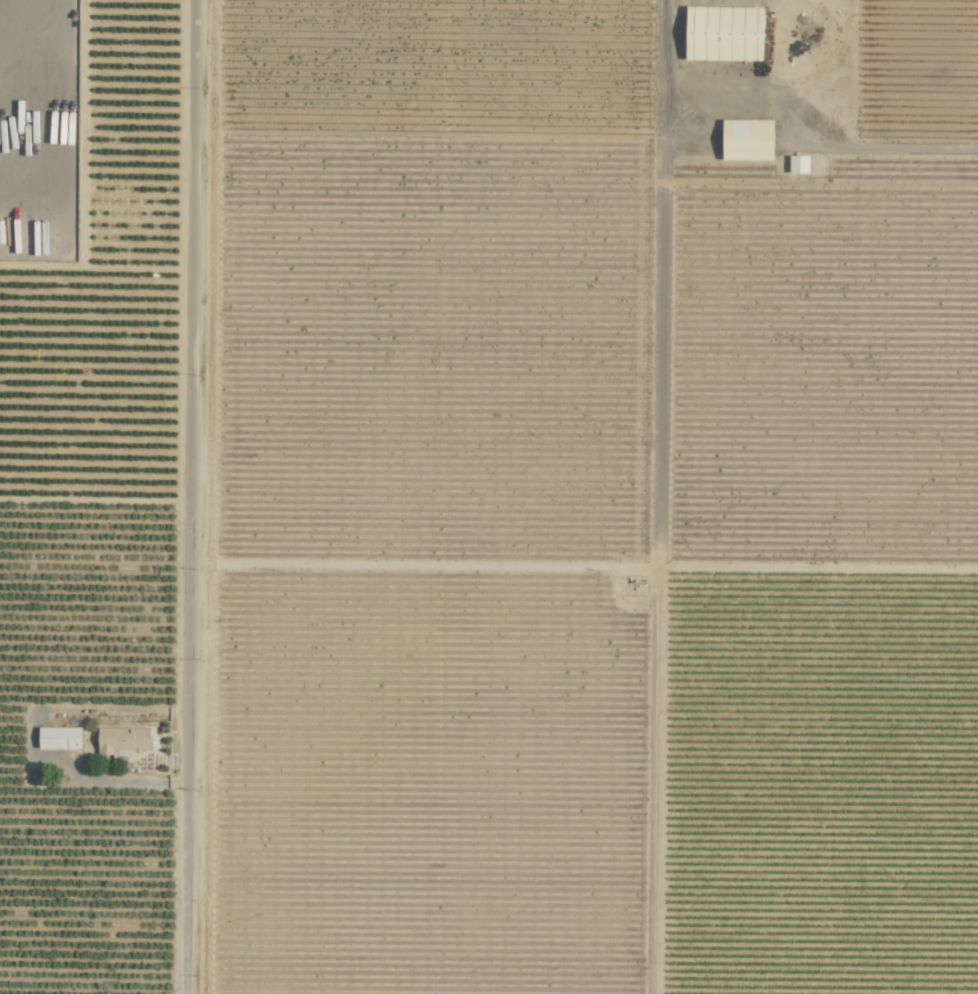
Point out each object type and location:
building: (723, 33)
road: (780, 97)
building: (746, 139)
building: (798, 164)
road: (191, 497)
building: (59, 737)
building: (122, 740)

